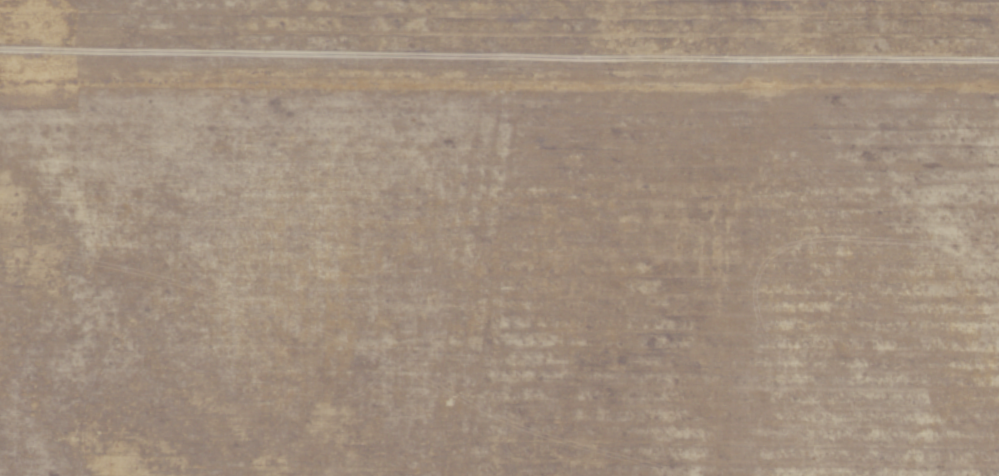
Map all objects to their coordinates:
airport: (167, 366)

